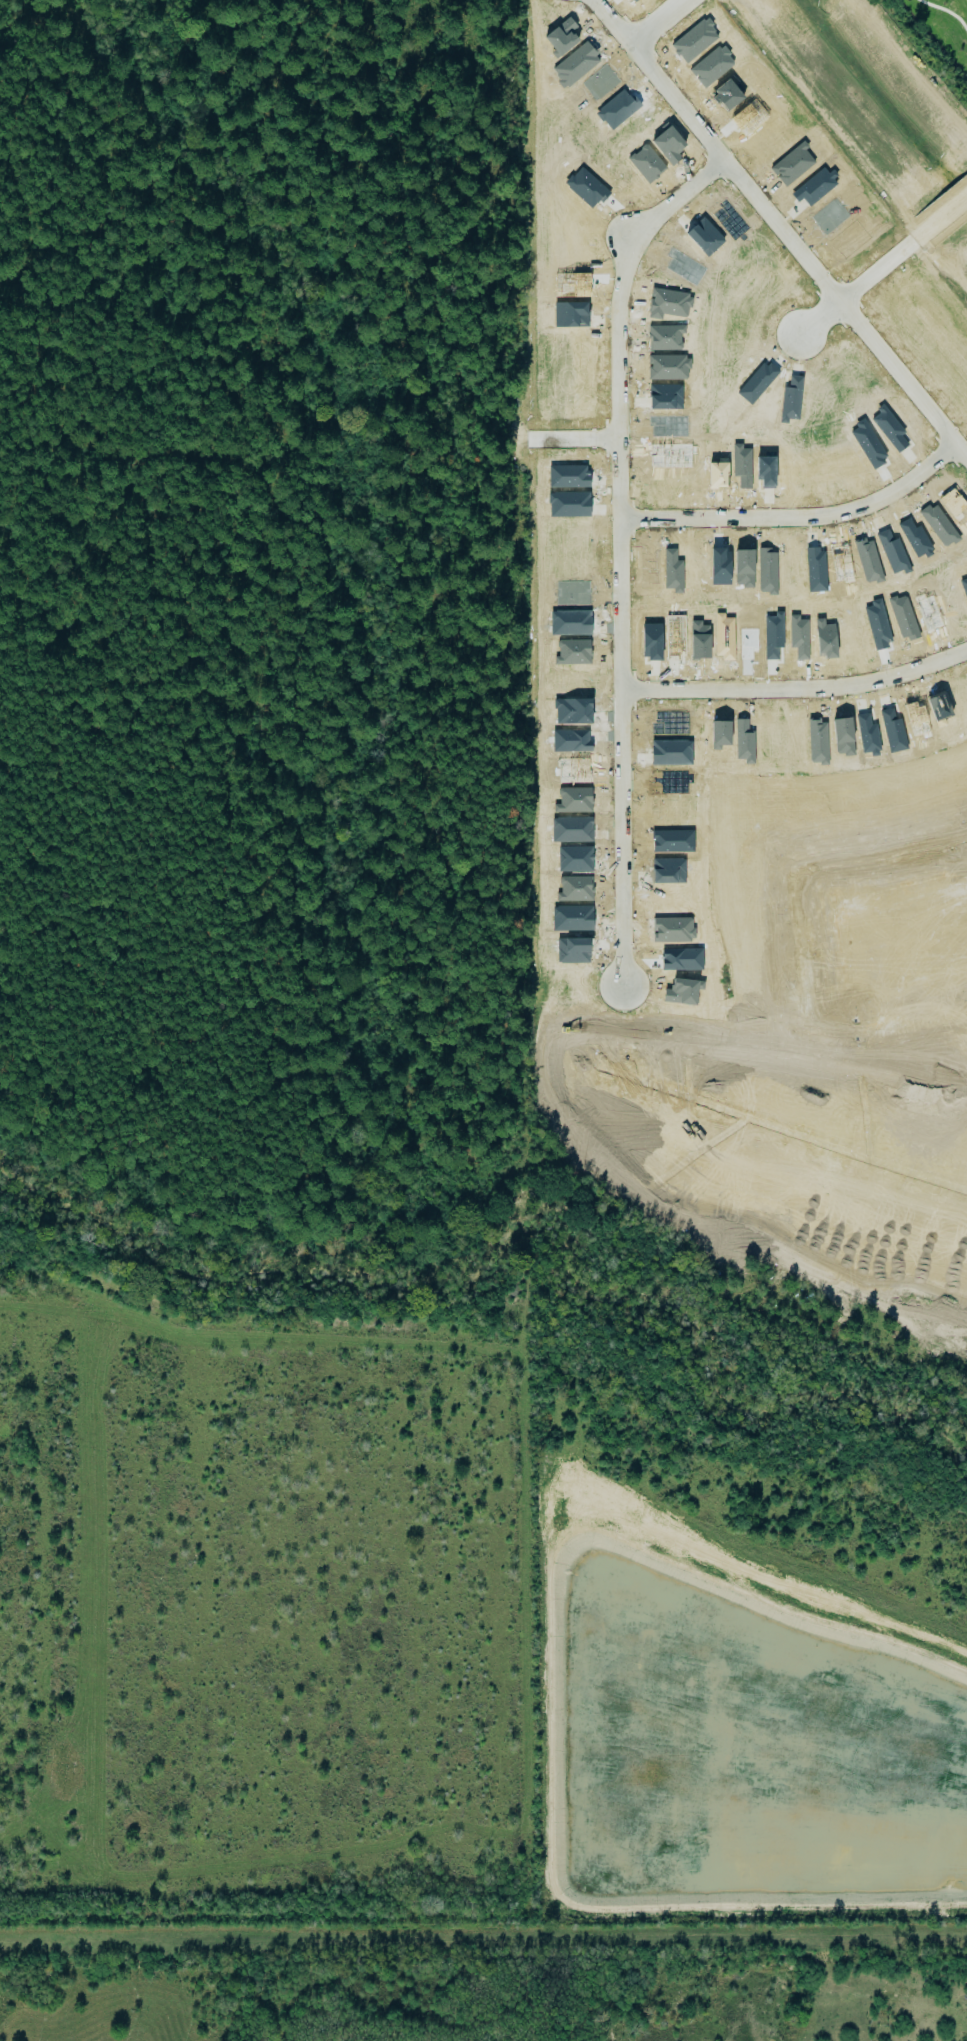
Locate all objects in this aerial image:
road: (667, 23)
road: (783, 225)
road: (886, 266)
road: (578, 436)
road: (803, 517)
road: (625, 550)
road: (800, 689)
road: (800, 937)

